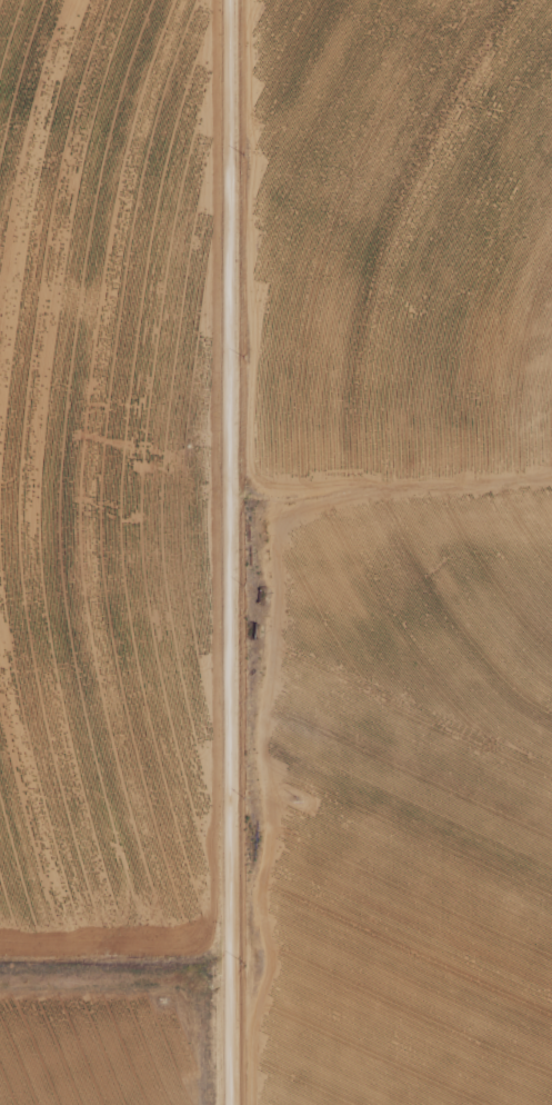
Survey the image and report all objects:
road: (223, 552)

